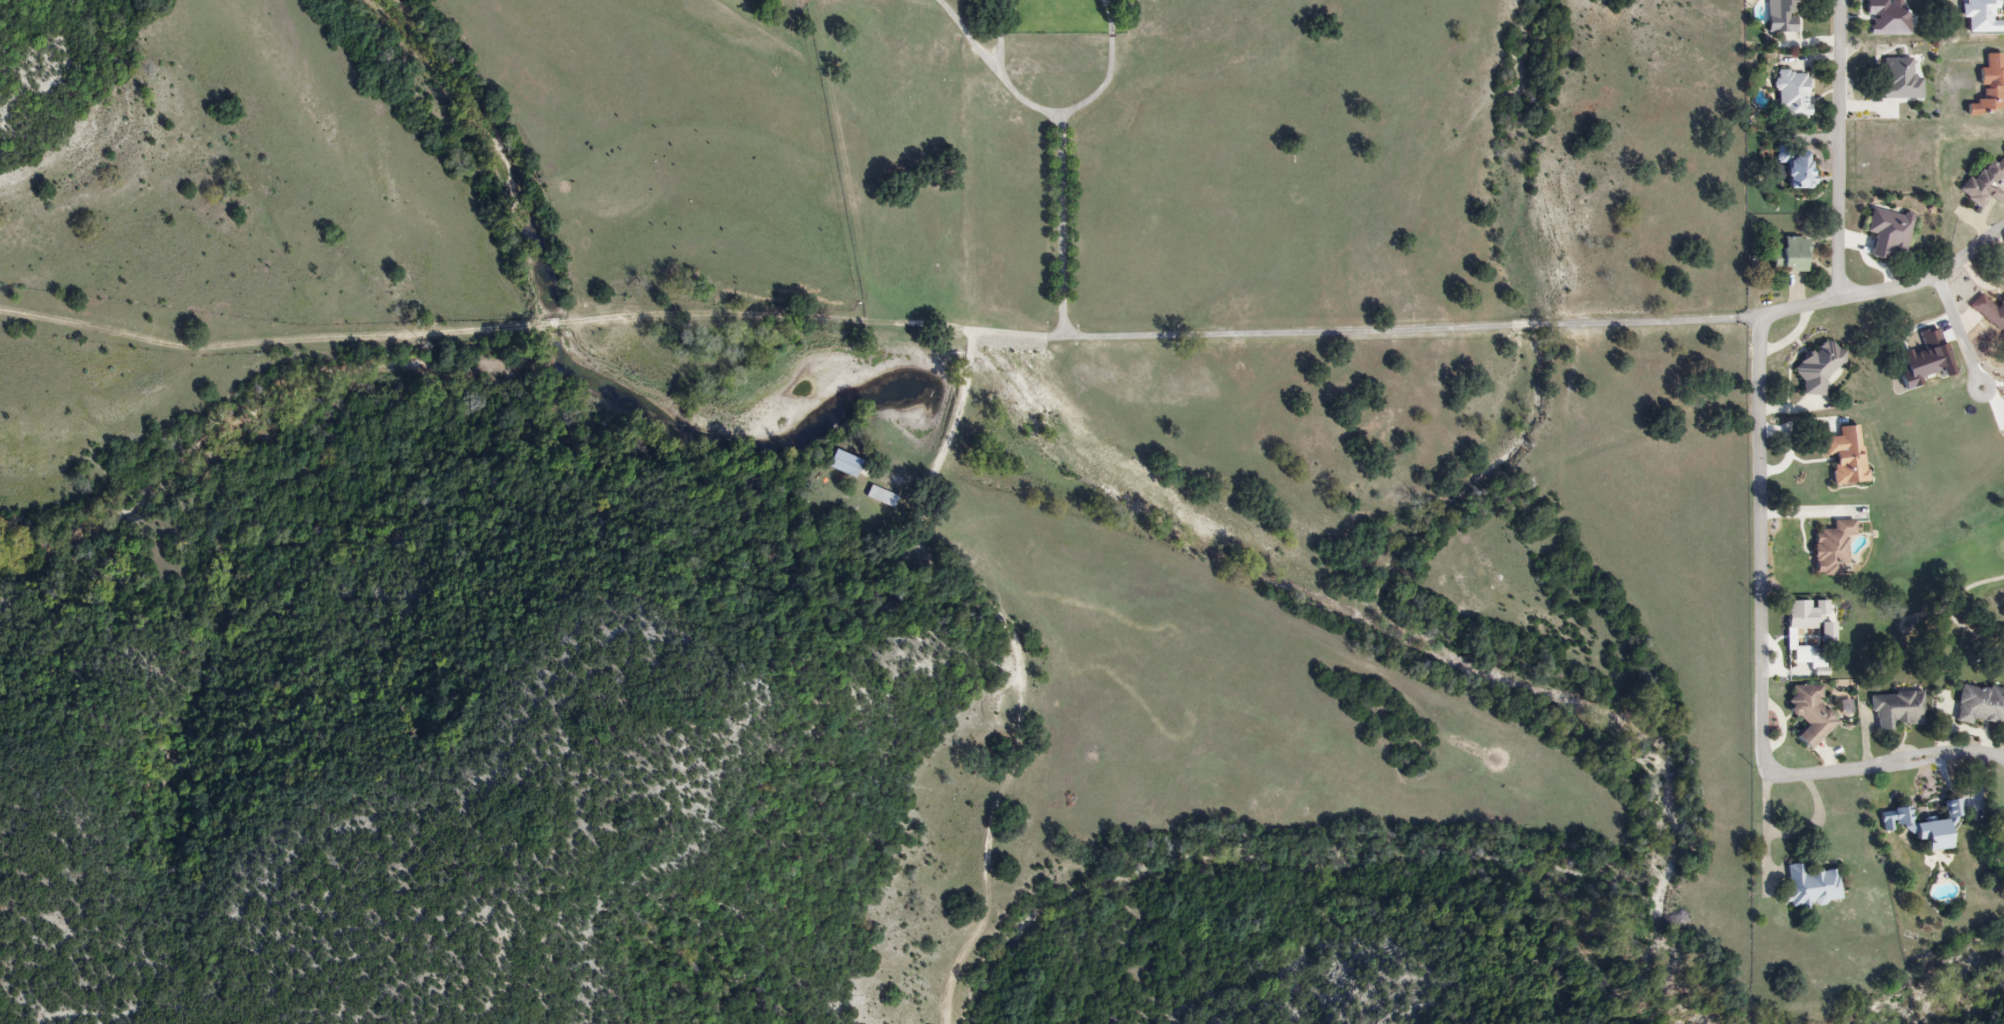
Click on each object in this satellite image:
road: (1110, 16)
road: (1001, 17)
building: (1780, 17)
building: (1886, 17)
road: (997, 49)
building: (1898, 80)
building: (1989, 87)
road: (1099, 88)
building: (1792, 95)
road: (1068, 140)
road: (1839, 150)
building: (1794, 169)
building: (1985, 185)
building: (1887, 233)
building: (1789, 256)
road: (1890, 288)
building: (2002, 311)
road: (486, 318)
building: (2002, 324)
road: (1960, 325)
road: (1368, 330)
building: (1819, 369)
road: (955, 413)
building: (1846, 456)
building: (840, 464)
building: (882, 496)
building: (1831, 548)
building: (1809, 633)
road: (1762, 663)
building: (1980, 705)
building: (1899, 711)
building: (1811, 715)
road: (1768, 821)
road: (1818, 826)
building: (1928, 826)
building: (2002, 862)
building: (1810, 886)

